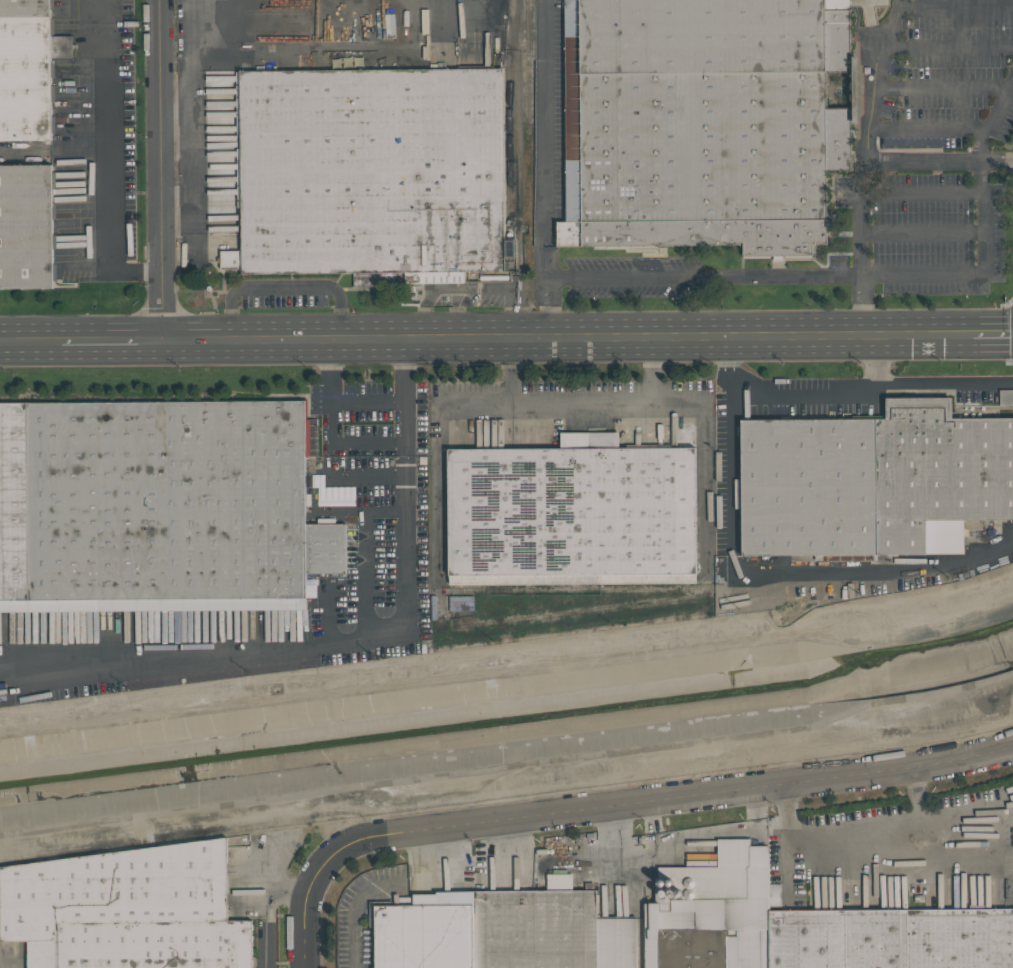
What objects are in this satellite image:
parking lot: (869, 3)
road: (956, 8)
road: (872, 28)
road: (947, 49)
railway: (527, 62)
building: (28, 68)
road: (874, 79)
road: (941, 88)
railway: (508, 103)
road: (994, 121)
building: (704, 122)
road: (929, 128)
road: (175, 130)
road: (192, 145)
parking lot: (932, 149)
road: (939, 163)
road: (100, 165)
road: (548, 168)
road: (159, 169)
building: (372, 173)
road: (921, 194)
road: (176, 211)
road: (861, 219)
building: (27, 226)
road: (922, 233)
building: (219, 267)
road: (979, 274)
road: (736, 276)
road: (284, 288)
road: (468, 290)
road: (992, 334)
road: (566, 337)
road: (111, 339)
road: (30, 340)
road: (946, 383)
building: (1005, 397)
road: (368, 399)
road: (810, 400)
road: (473, 402)
road: (580, 405)
road: (332, 426)
road: (703, 460)
building: (938, 470)
road: (366, 475)
road: (731, 480)
building: (809, 487)
building: (159, 508)
building: (571, 509)
parking lot: (372, 522)
railway: (978, 535)
road: (364, 553)
railway: (848, 566)
railway: (599, 589)
building: (268, 627)
road: (350, 640)
road: (681, 796)
road: (860, 846)
road: (966, 858)
road: (379, 887)
road: (308, 900)
road: (273, 903)
building: (719, 903)
building: (126, 910)
building: (549, 931)
building: (424, 935)
building: (891, 938)
road: (269, 955)

